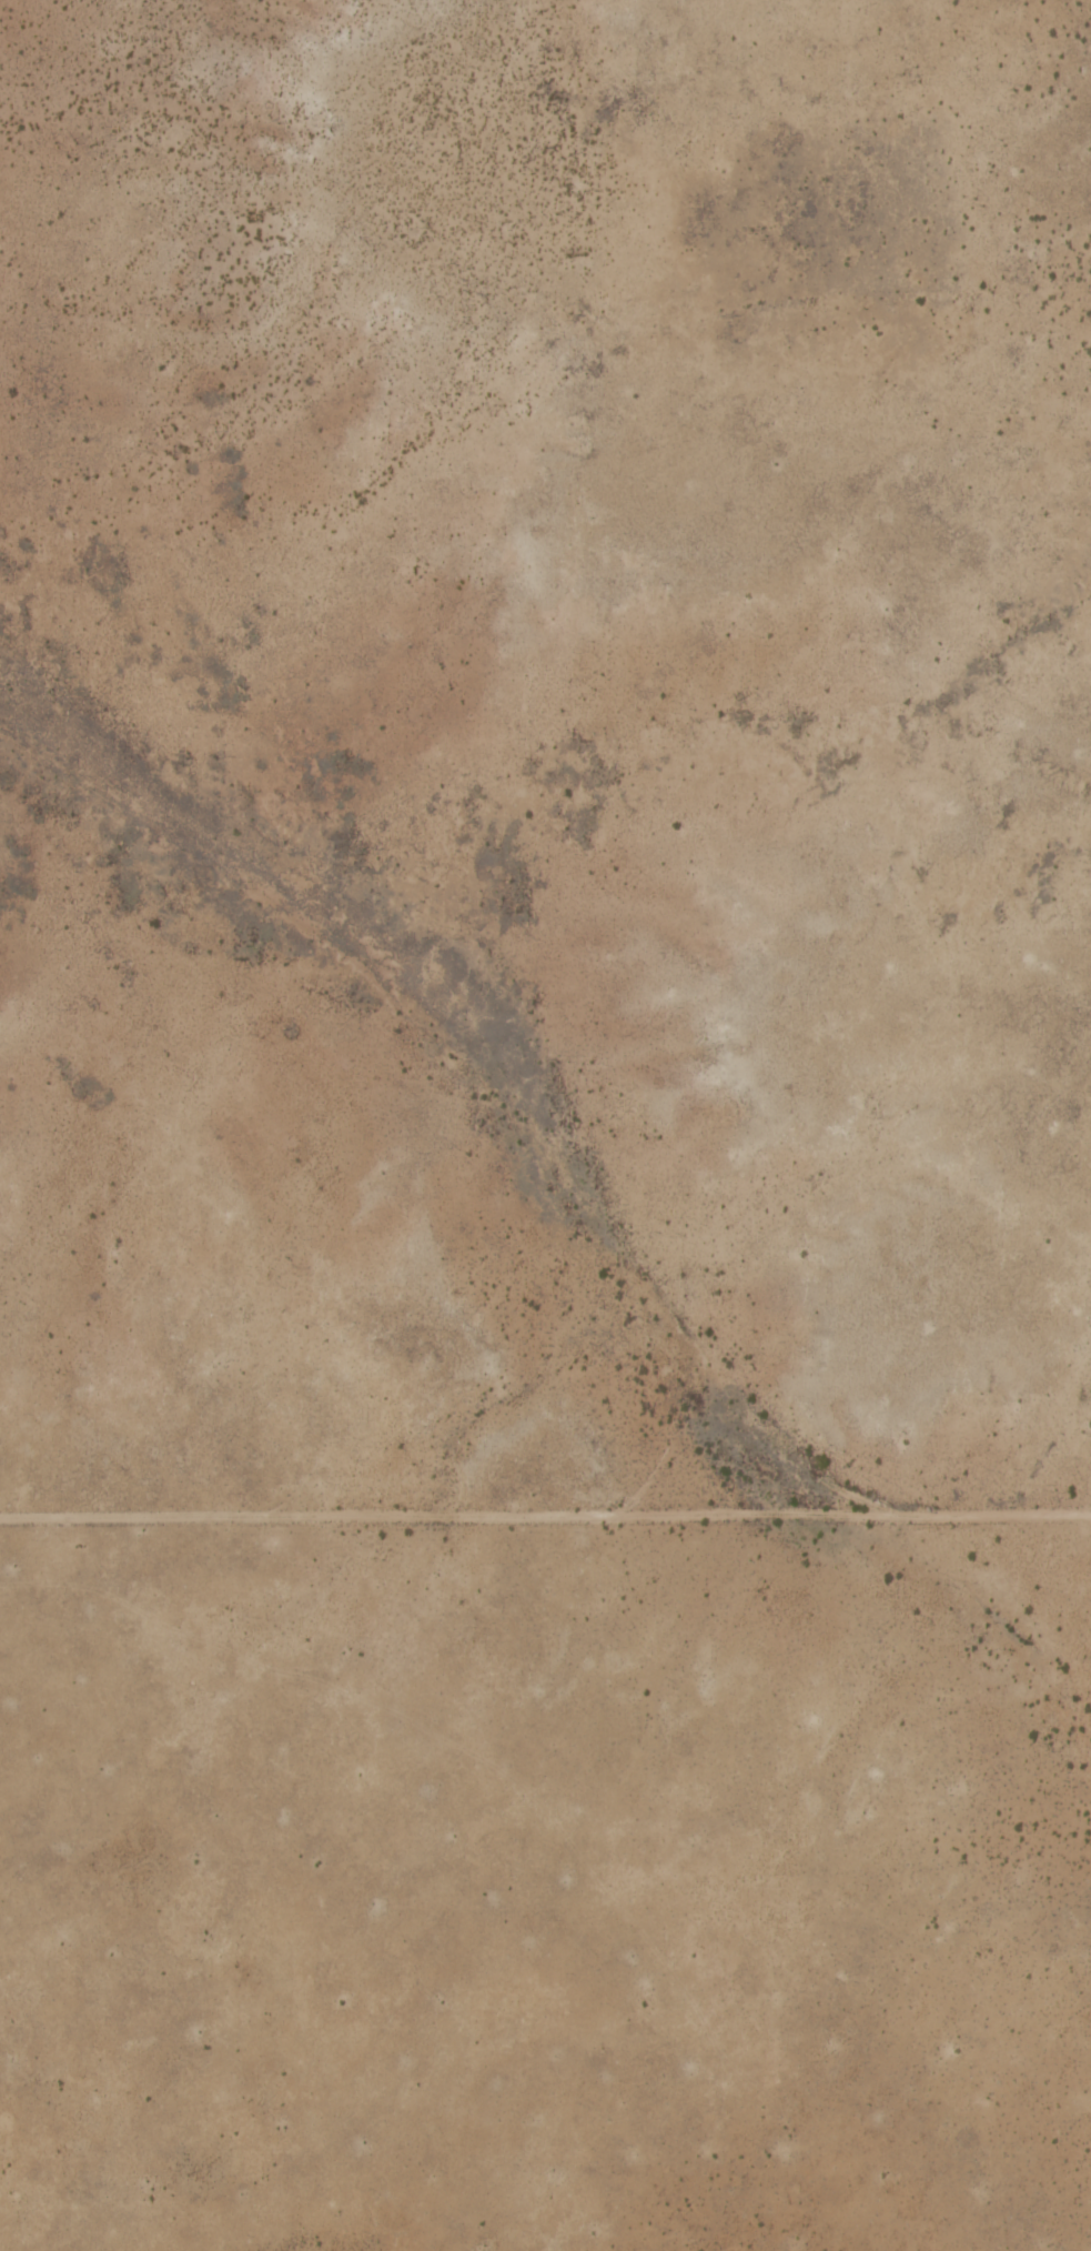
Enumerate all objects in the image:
road: (11, 2190)

